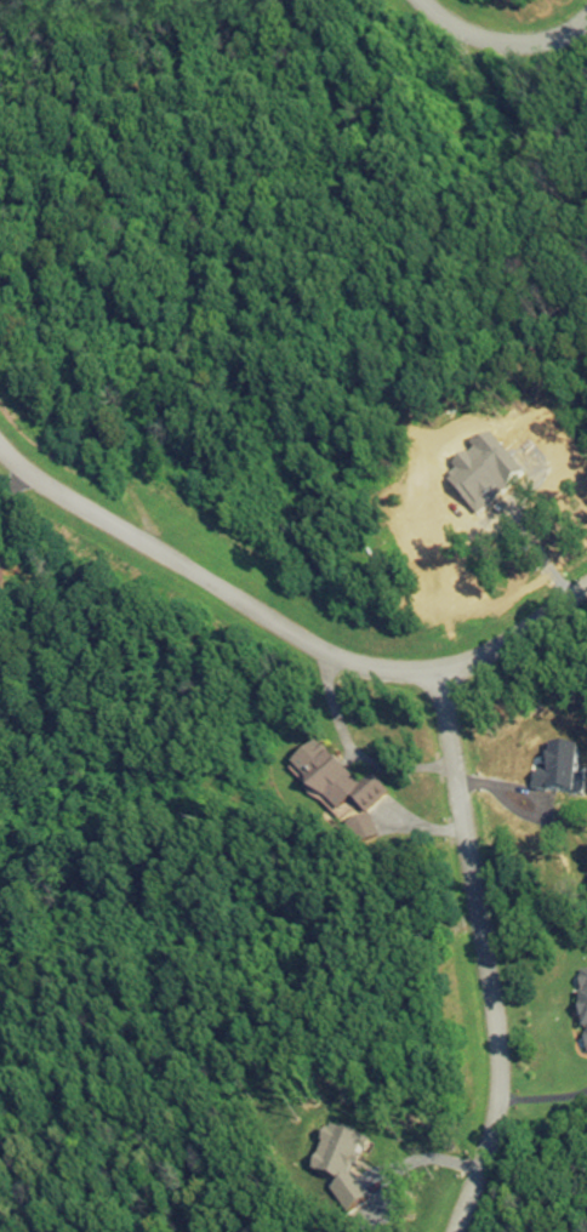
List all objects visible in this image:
road: (500, 41)
road: (7, 478)
road: (281, 631)
road: (351, 749)
building: (330, 783)
road: (485, 954)
building: (581, 1013)

